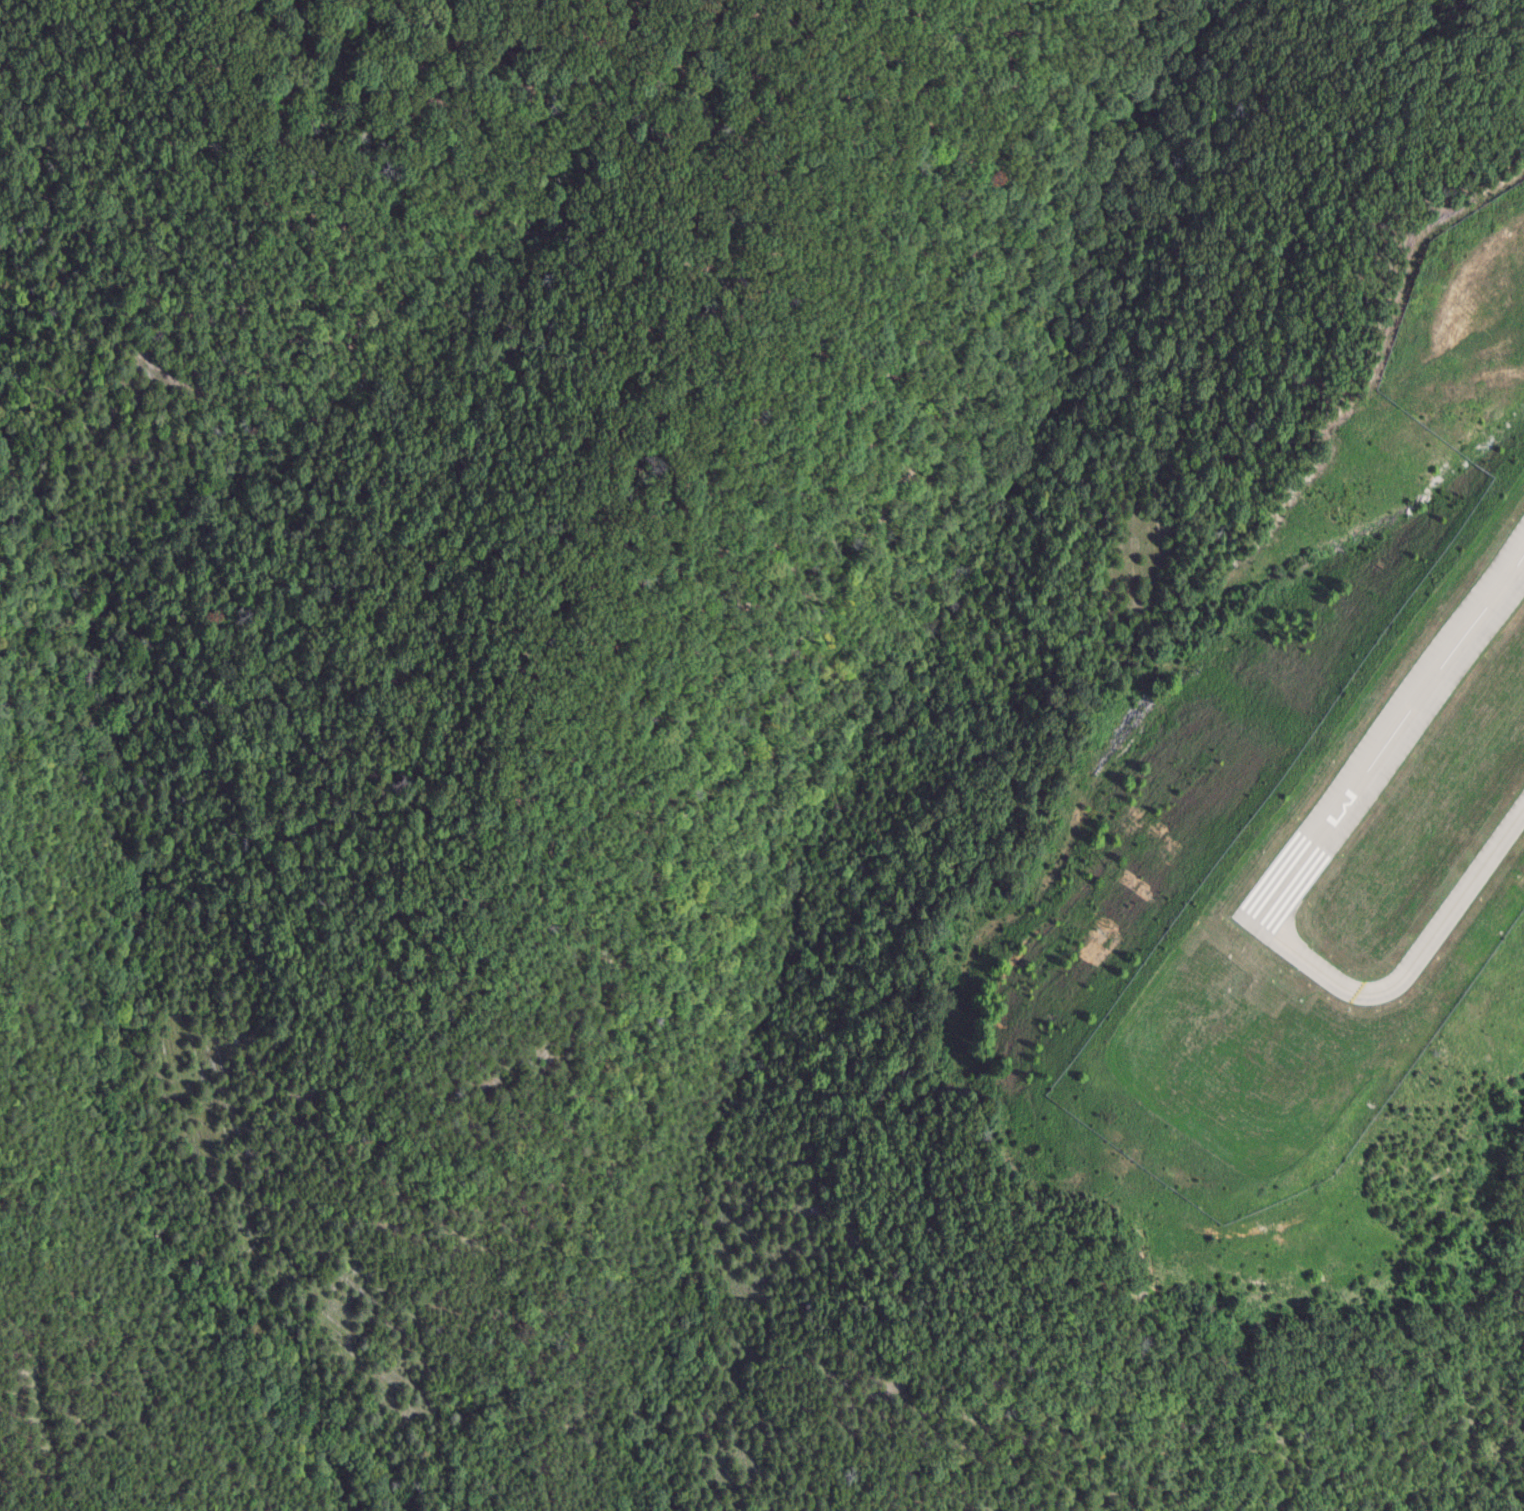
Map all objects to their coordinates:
airport runway: (1392, 741)
airport taxiway: (1415, 958)

